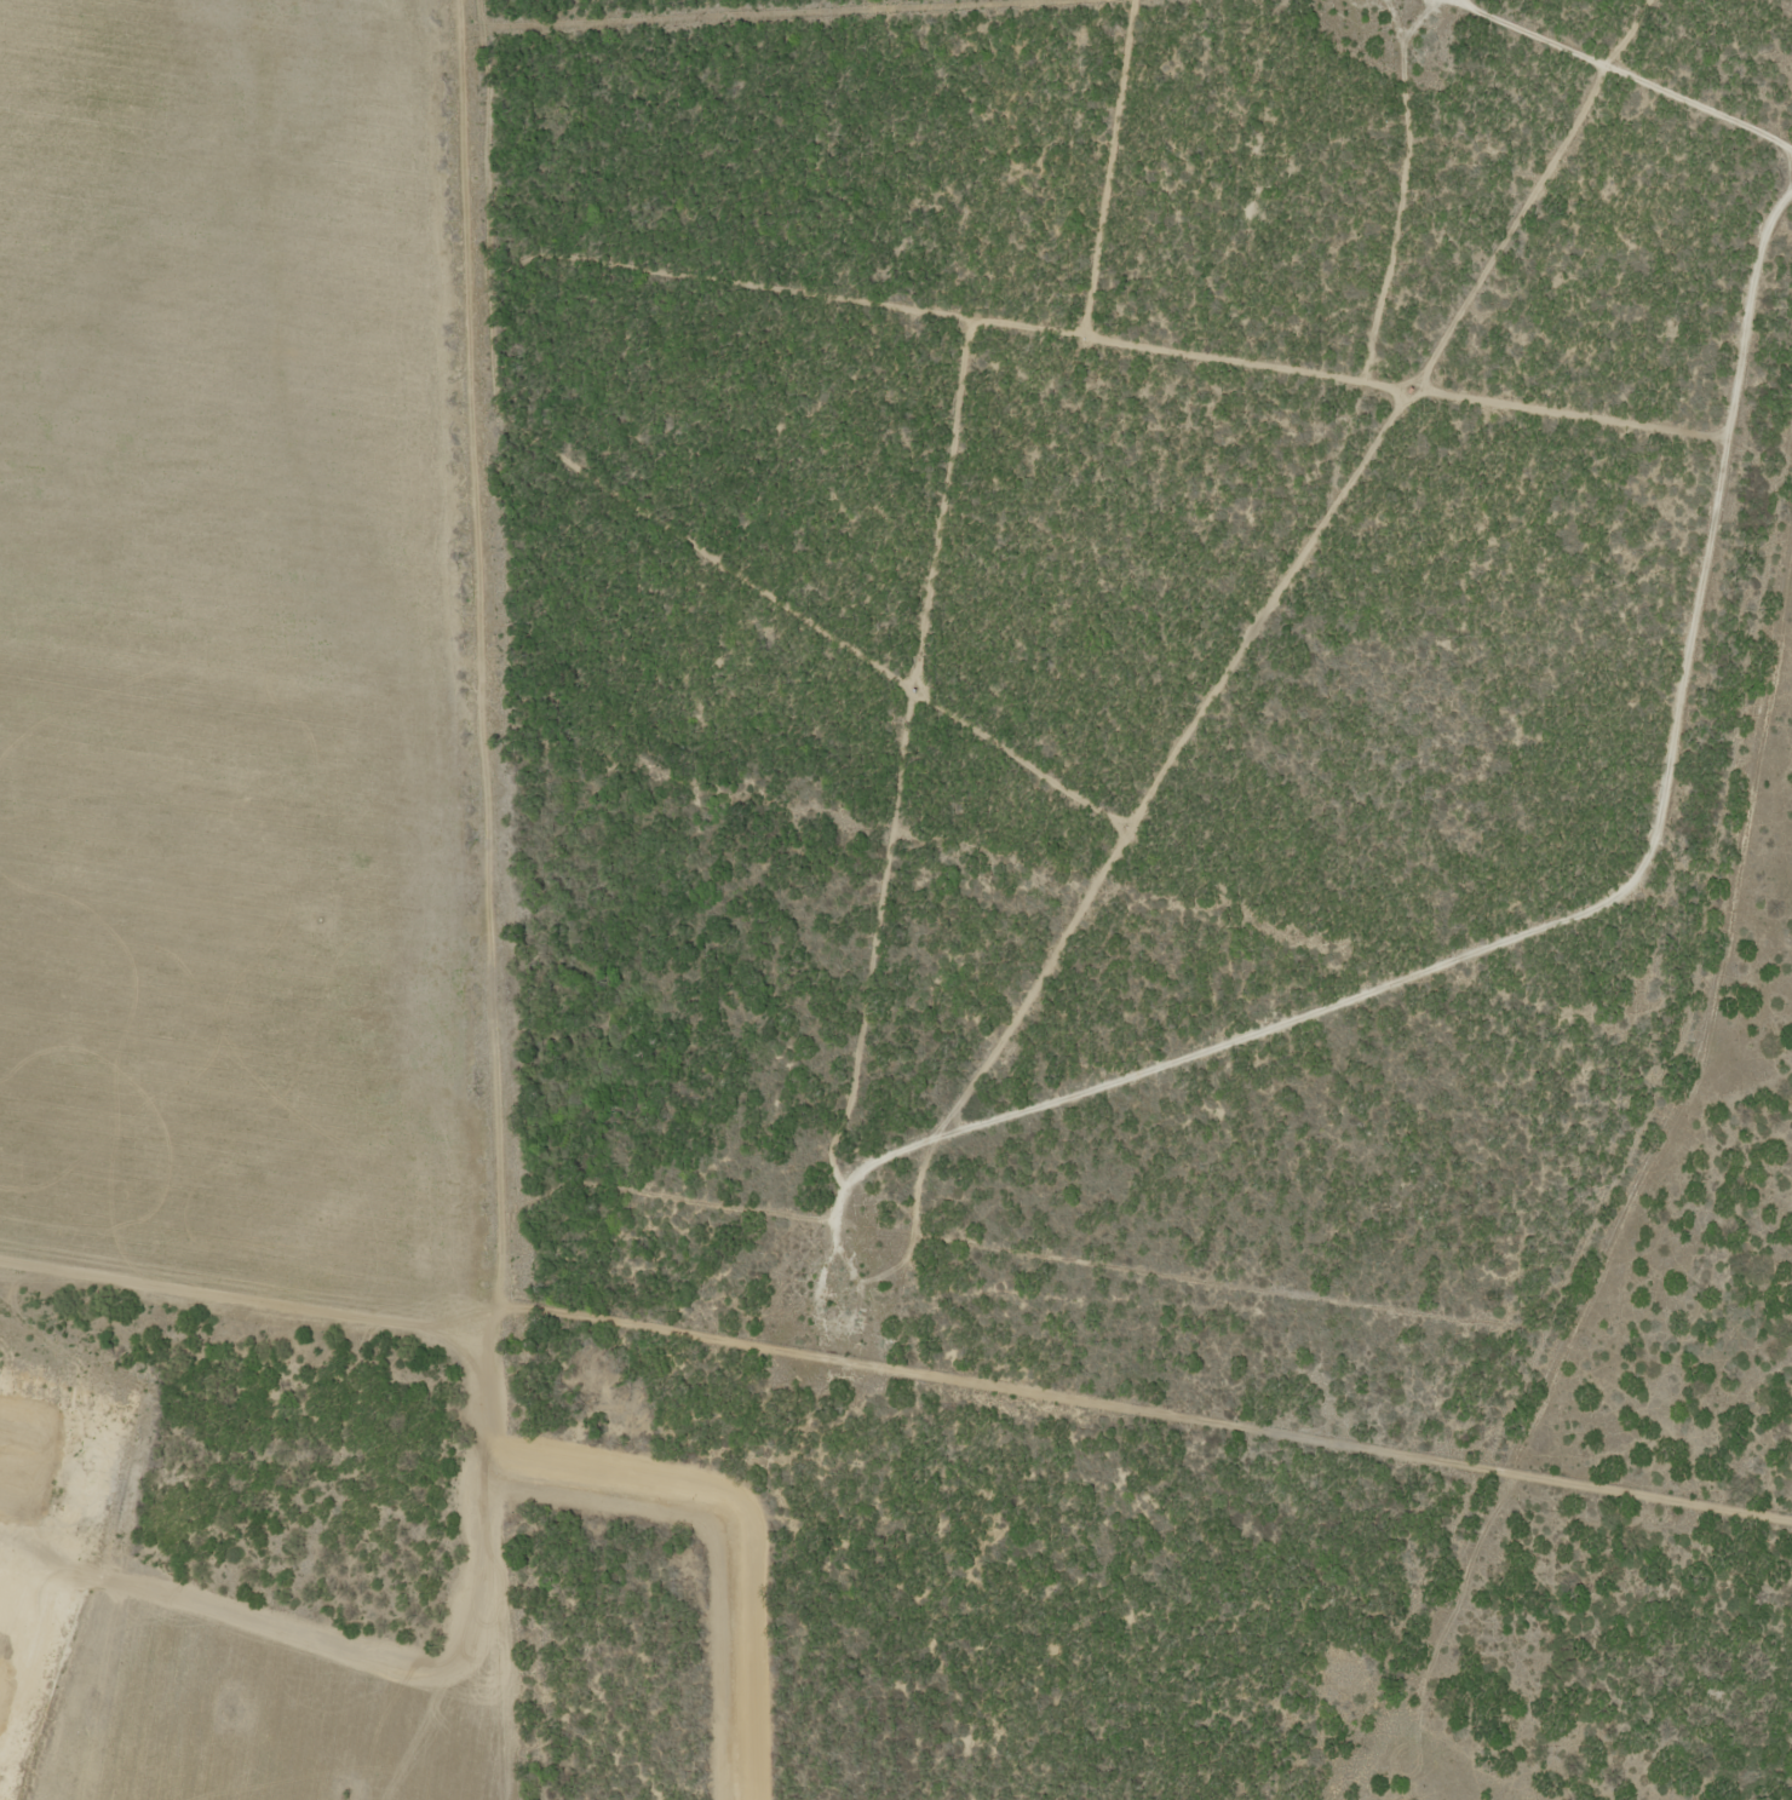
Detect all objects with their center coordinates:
road: (1581, 947)
road: (1739, 971)
road: (162, 1369)
road: (1517, 1437)

